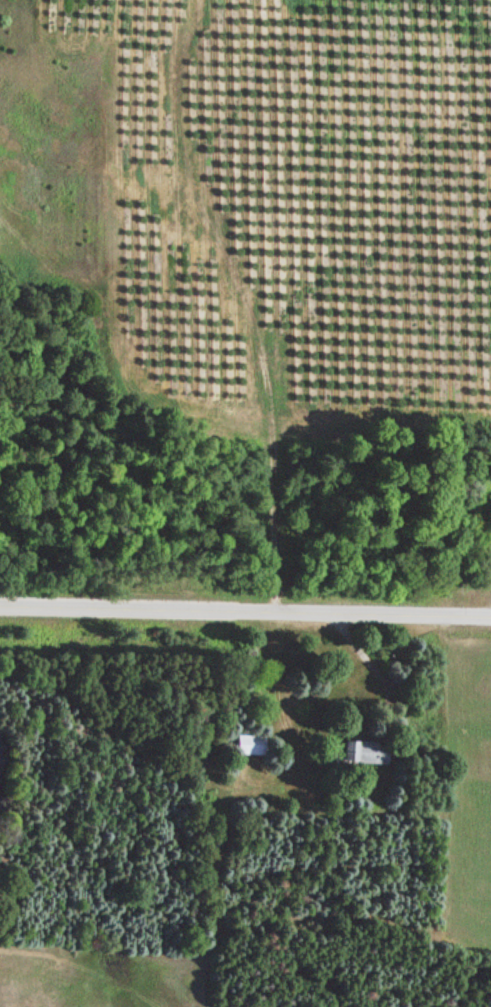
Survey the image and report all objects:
road: (245, 606)
building: (251, 745)
building: (368, 752)

